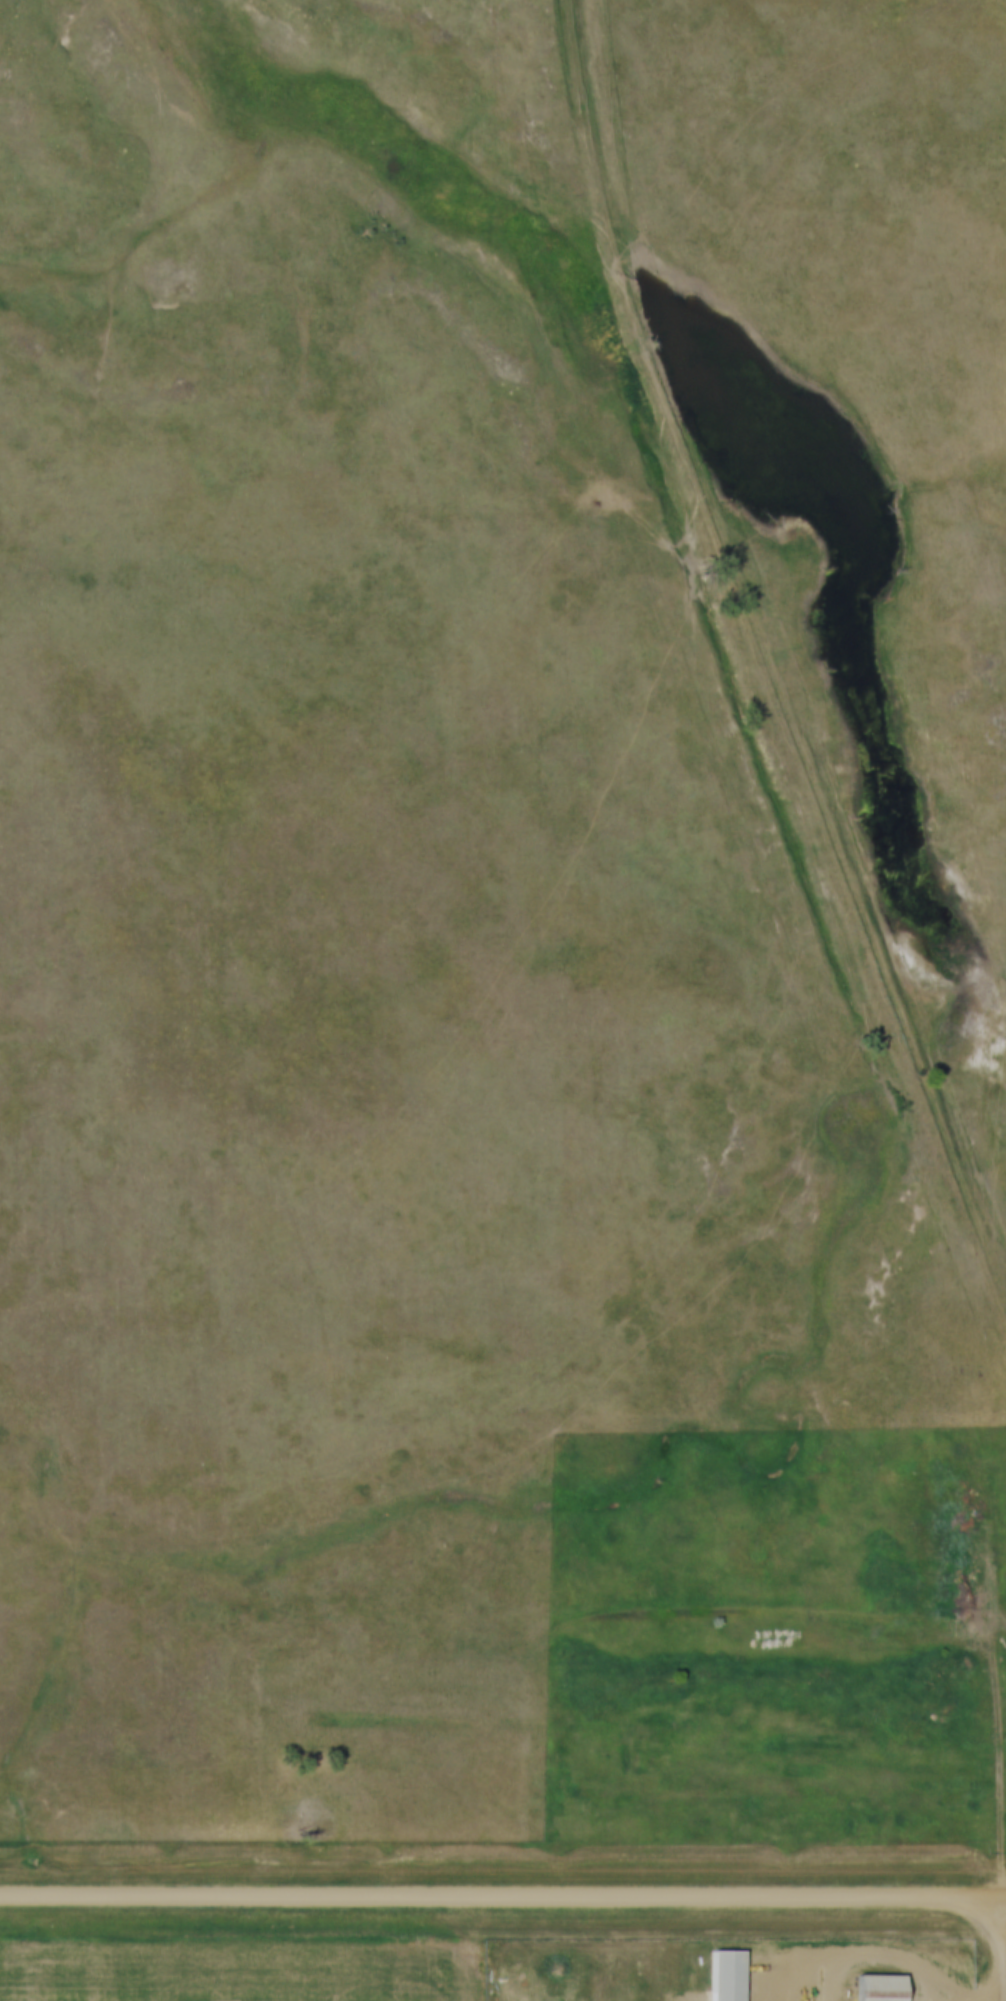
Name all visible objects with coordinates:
road: (221, 1893)
road: (724, 1893)
road: (793, 1930)
road: (499, 1946)
building: (726, 1974)
building: (881, 1986)

